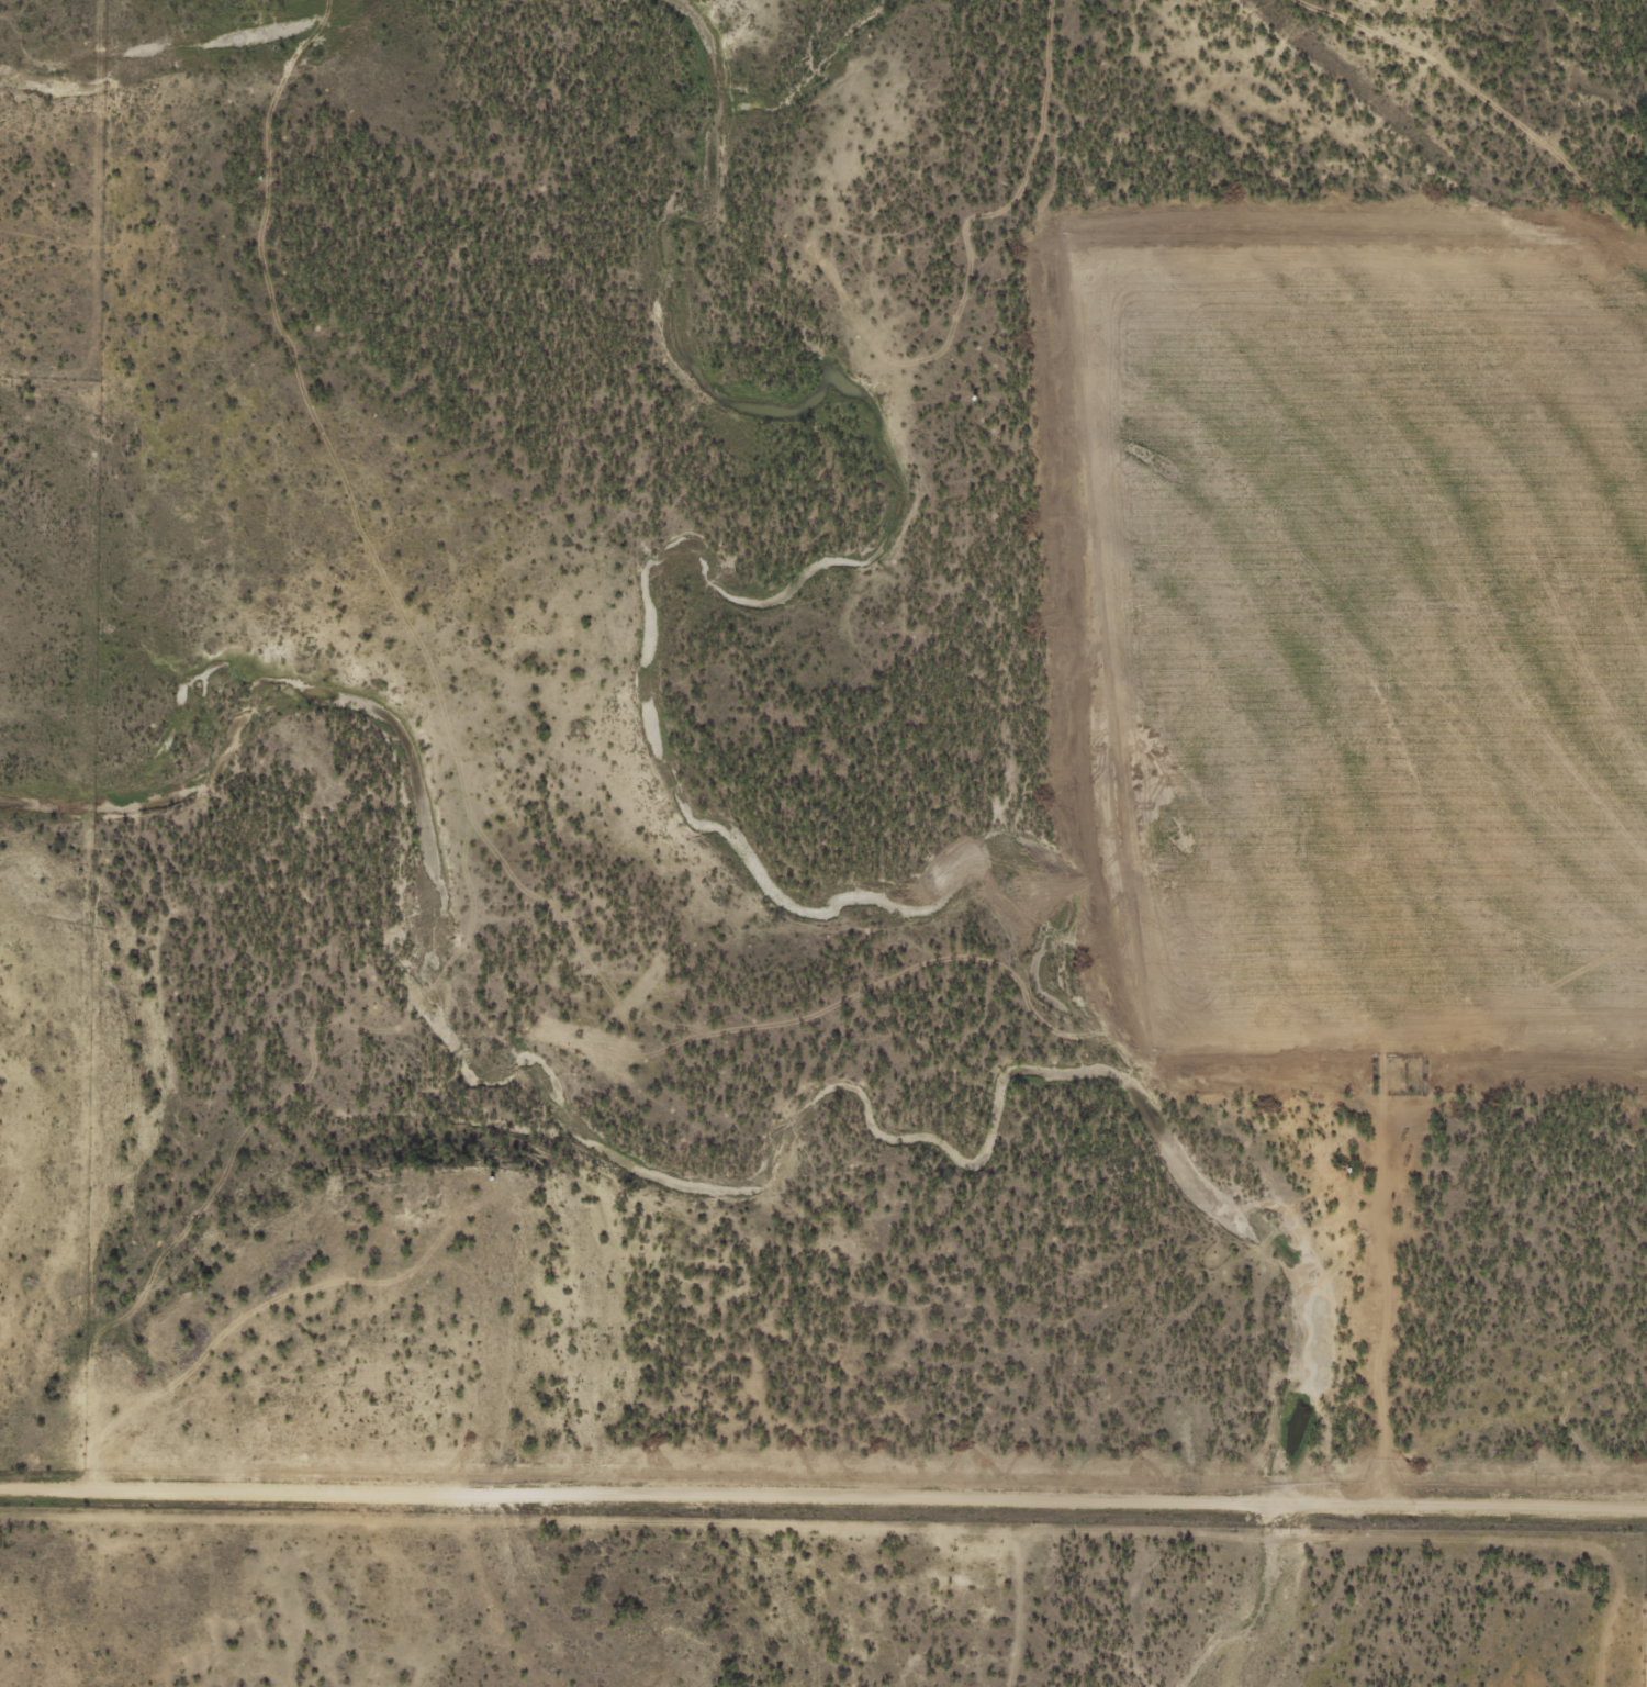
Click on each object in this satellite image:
road: (824, 1500)

